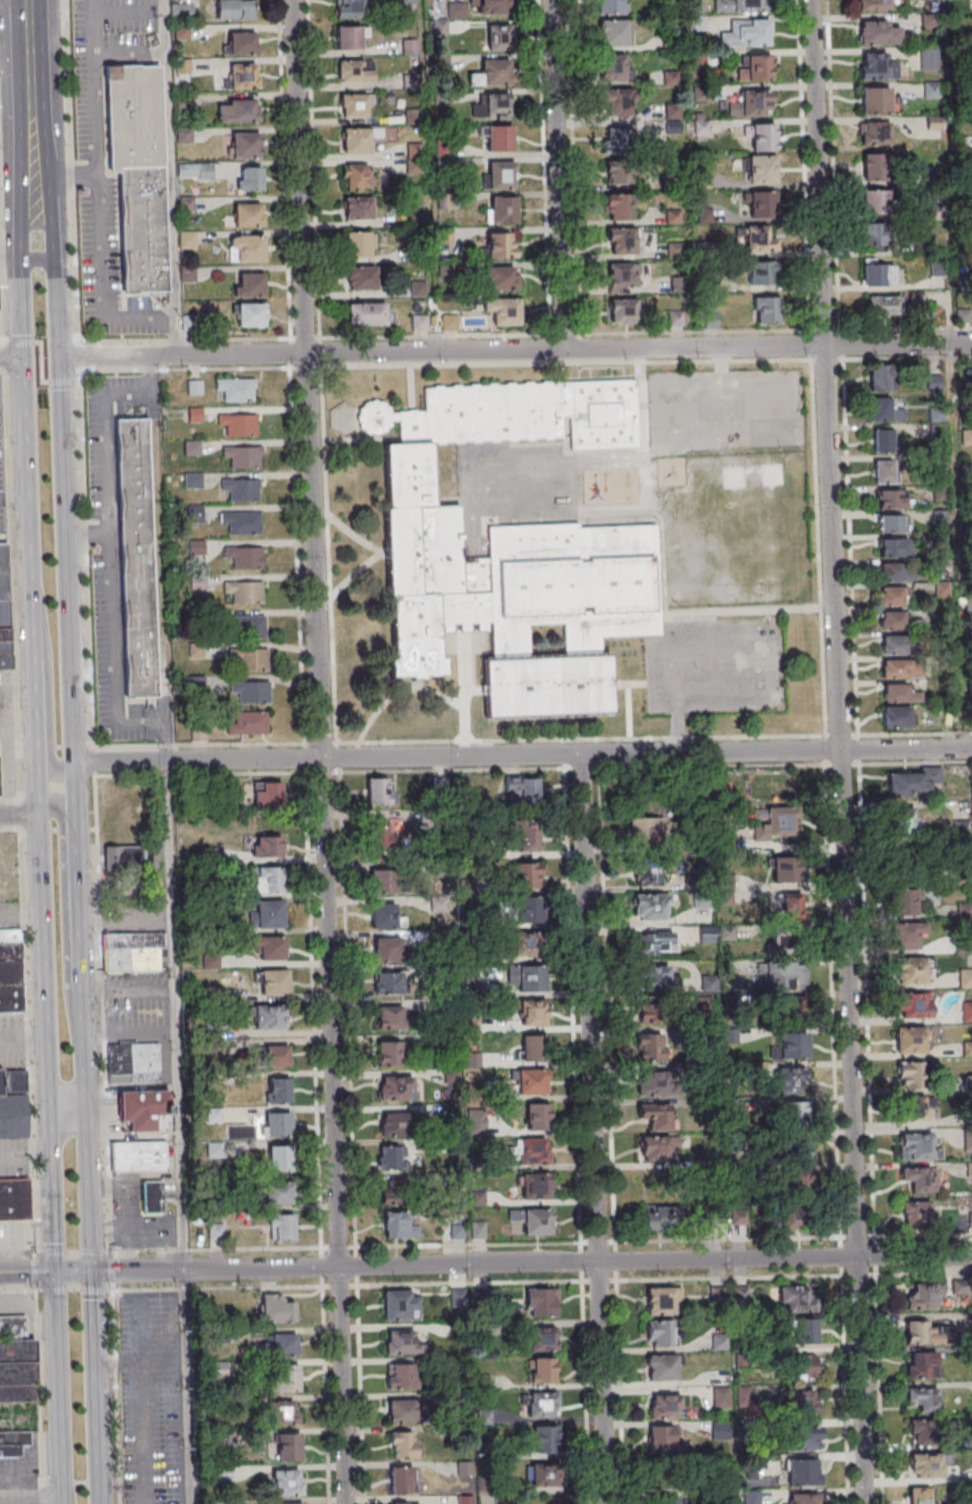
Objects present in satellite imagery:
building: (875, 5)
building: (611, 6)
building: (740, 6)
building: (490, 7)
building: (234, 9)
building: (350, 9)
building: (456, 10)
building: (615, 32)
building: (747, 34)
building: (877, 34)
building: (498, 37)
building: (351, 38)
building: (240, 42)
road: (29, 56)
road: (15, 58)
building: (929, 59)
building: (614, 68)
building: (755, 68)
building: (878, 69)
building: (354, 72)
building: (496, 72)
building: (241, 76)
road: (94, 87)
building: (931, 90)
building: (618, 102)
building: (874, 102)
building: (754, 104)
building: (492, 106)
building: (237, 111)
building: (672, 112)
parking lot: (90, 121)
building: (701, 128)
building: (877, 134)
building: (764, 137)
building: (364, 138)
building: (499, 138)
building: (619, 138)
road: (33, 144)
building: (245, 145)
building: (872, 167)
building: (761, 170)
building: (618, 172)
road: (66, 175)
building: (135, 175)
building: (501, 175)
road: (557, 175)
building: (355, 176)
road: (169, 177)
building: (250, 178)
building: (874, 202)
building: (763, 204)
building: (620, 207)
building: (358, 208)
building: (501, 209)
building: (247, 215)
building: (875, 237)
building: (759, 239)
building: (621, 241)
building: (358, 244)
building: (501, 245)
building: (246, 248)
road: (37, 258)
road: (53, 265)
building: (762, 273)
building: (622, 275)
building: (878, 276)
building: (361, 278)
building: (501, 278)
road: (102, 282)
building: (249, 284)
road: (1, 307)
building: (882, 307)
building: (765, 310)
building: (503, 311)
building: (623, 311)
building: (251, 315)
building: (366, 315)
building: (418, 323)
building: (450, 323)
road: (11, 342)
road: (897, 345)
road: (563, 350)
road: (180, 355)
road: (11, 357)
traffic signals: (23, 357)
traffic signals: (57, 357)
road: (826, 358)
road: (907, 358)
road: (39, 362)
road: (565, 363)
road: (304, 366)
road: (183, 368)
building: (881, 377)
road: (305, 379)
road: (67, 382)
building: (195, 387)
building: (236, 389)
parking lot: (722, 409)
building: (885, 411)
building: (239, 424)
building: (966, 436)
building: (883, 440)
building: (243, 456)
road: (60, 472)
building: (883, 472)
parking lot: (1, 488)
building: (242, 488)
road: (27, 495)
building: (891, 499)
building: (241, 522)
building: (893, 523)
building: (893, 547)
building: (512, 550)
building: (245, 557)
building: (137, 558)
parking lot: (114, 560)
building: (891, 573)
road: (9, 584)
building: (245, 591)
building: (894, 597)
building: (4, 609)
building: (894, 620)
road: (85, 626)
building: (250, 626)
building: (895, 644)
building: (251, 660)
parking lot: (712, 667)
building: (901, 669)
road: (627, 684)
road: (46, 686)
parking lot: (4, 691)
building: (250, 692)
building: (899, 694)
road: (67, 708)
road: (628, 711)
building: (897, 717)
building: (247, 723)
parking lot: (5, 726)
road: (580, 738)
road: (320, 741)
road: (53, 746)
road: (905, 750)
road: (839, 751)
road: (709, 753)
road: (337, 755)
road: (306, 757)
road: (459, 757)
road: (329, 758)
road: (195, 760)
road: (912, 761)
road: (840, 762)
road: (712, 766)
road: (580, 768)
road: (323, 770)
road: (199, 772)
building: (913, 782)
building: (522, 789)
building: (378, 791)
building: (267, 794)
road: (9, 799)
road: (18, 814)
road: (19, 816)
building: (904, 820)
building: (781, 821)
road: (56, 829)
road: (10, 830)
building: (961, 830)
building: (645, 831)
building: (379, 835)
building: (529, 837)
building: (265, 846)
building: (124, 858)
building: (907, 866)
building: (785, 869)
building: (647, 874)
building: (527, 877)
building: (268, 879)
building: (383, 880)
building: (904, 902)
building: (651, 907)
building: (790, 907)
parking lot: (9, 914)
building: (269, 914)
parking lot: (132, 916)
building: (384, 916)
road: (63, 922)
building: (529, 930)
building: (707, 934)
building: (9, 935)
building: (907, 935)
building: (131, 940)
building: (788, 940)
building: (659, 941)
road: (76, 942)
building: (271, 948)
building: (389, 950)
building: (130, 960)
road: (43, 962)
building: (909, 970)
building: (656, 976)
building: (784, 976)
building: (10, 977)
building: (965, 978)
building: (527, 979)
building: (273, 982)
building: (388, 983)
parking lot: (136, 1006)
road: (588, 1008)
road: (314, 1009)
building: (914, 1009)
building: (966, 1011)
road: (328, 1012)
road: (174, 1015)
building: (533, 1015)
building: (653, 1016)
building: (270, 1017)
building: (389, 1017)
parking lot: (12, 1040)
building: (910, 1040)
road: (25, 1041)
building: (654, 1046)
building: (793, 1047)
building: (534, 1049)
building: (968, 1049)
building: (387, 1053)
building: (275, 1055)
building: (134, 1061)
parking lot: (164, 1062)
building: (909, 1074)
building: (12, 1080)
road: (81, 1081)
building: (531, 1081)
building: (656, 1083)
building: (790, 1083)
building: (395, 1088)
building: (279, 1090)
road: (100, 1107)
building: (141, 1107)
building: (913, 1107)
road: (66, 1108)
building: (13, 1116)
building: (537, 1116)
building: (655, 1116)
building: (394, 1123)
building: (274, 1124)
road: (51, 1143)
building: (655, 1148)
building: (918, 1148)
building: (215, 1150)
building: (734, 1150)
building: (798, 1150)
building: (533, 1151)
building: (137, 1156)
building: (391, 1157)
parking lot: (13, 1158)
building: (279, 1158)
building: (799, 1176)
building: (919, 1180)
building: (535, 1187)
road: (85, 1189)
building: (393, 1192)
building: (279, 1193)
building: (150, 1197)
building: (12, 1200)
parking lot: (125, 1208)
building: (916, 1214)
building: (743, 1215)
building: (800, 1215)
building: (658, 1218)
building: (710, 1218)
building: (537, 1222)
road: (53, 1224)
building: (397, 1225)
building: (281, 1227)
parking lot: (12, 1235)
road: (578, 1242)
road: (214, 1250)
road: (15, 1251)
road: (70, 1252)
road: (530, 1263)
road: (27, 1271)
road: (32, 1271)
traffic signals: (56, 1271)
road: (72, 1271)
traffic signals: (88, 1271)
road: (110, 1271)
road: (71, 1290)
building: (458, 1297)
building: (921, 1297)
building: (796, 1299)
building: (660, 1300)
building: (541, 1302)
building: (401, 1305)
building: (277, 1309)
road: (89, 1312)
building: (802, 1331)
building: (922, 1332)
building: (658, 1333)
building: (544, 1339)
building: (403, 1343)
building: (278, 1344)
building: (16, 1362)
building: (923, 1365)
building: (805, 1367)
building: (661, 1368)
building: (542, 1370)
building: (400, 1375)
building: (289, 1378)
road: (600, 1383)
road: (37, 1384)
road: (341, 1385)
road: (59, 1387)
road: (184, 1387)
road: (114, 1396)
parking lot: (149, 1398)
building: (923, 1398)
building: (804, 1401)
building: (543, 1404)
road: (142, 1407)
building: (664, 1407)
building: (400, 1411)
building: (285, 1415)
road: (92, 1418)
building: (924, 1431)
building: (806, 1438)
building: (544, 1439)
building: (661, 1440)
building: (13, 1442)
building: (402, 1445)
building: (288, 1449)
building: (927, 1466)
parking lot: (19, 1471)
building: (802, 1473)
building: (544, 1474)
road: (20, 1478)
building: (402, 1479)
road: (78, 1482)
building: (287, 1483)
road: (42, 1490)
road: (65, 1493)
road: (95, 1493)
building: (920, 1496)
building: (666, 1499)
building: (804, 1499)
road: (32, 1503)
building: (290, 1503)
building: (407, 1503)

